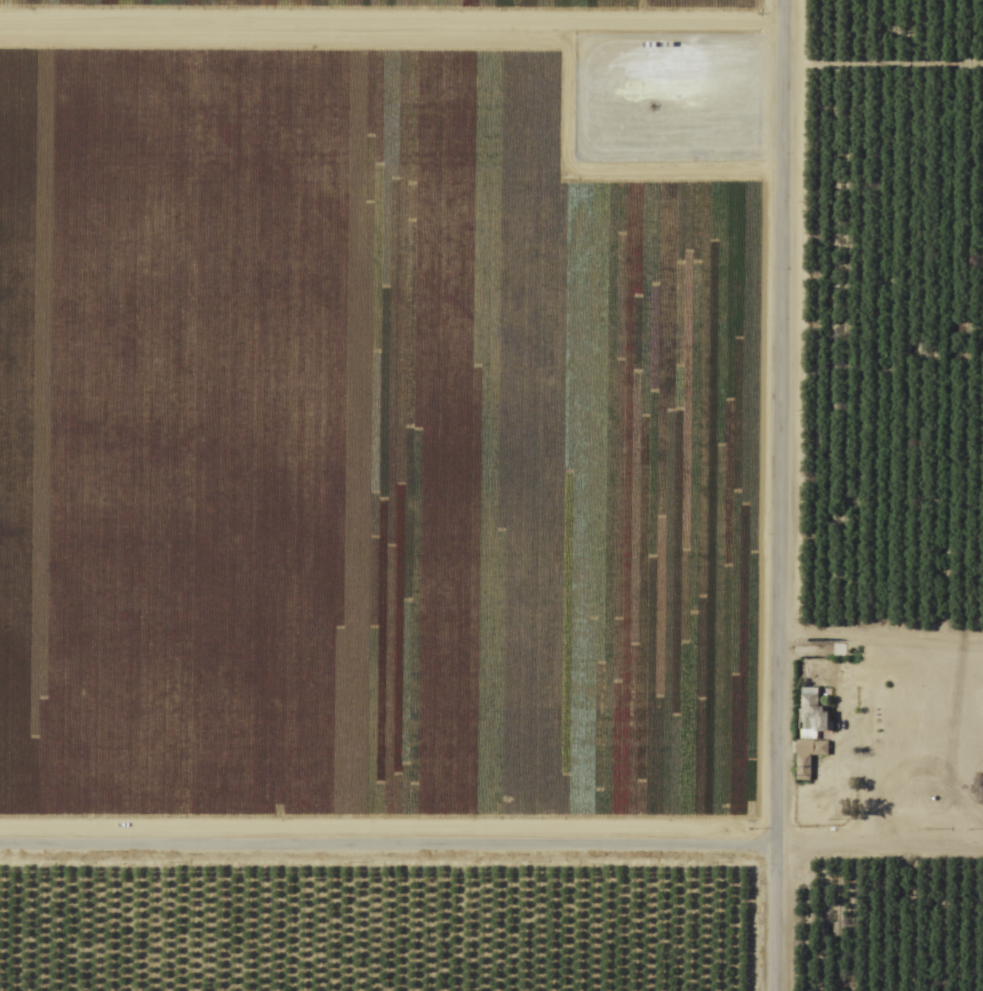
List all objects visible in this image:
crop: (491, 495)
road: (780, 495)
building: (808, 731)
road: (879, 840)
road: (387, 850)

